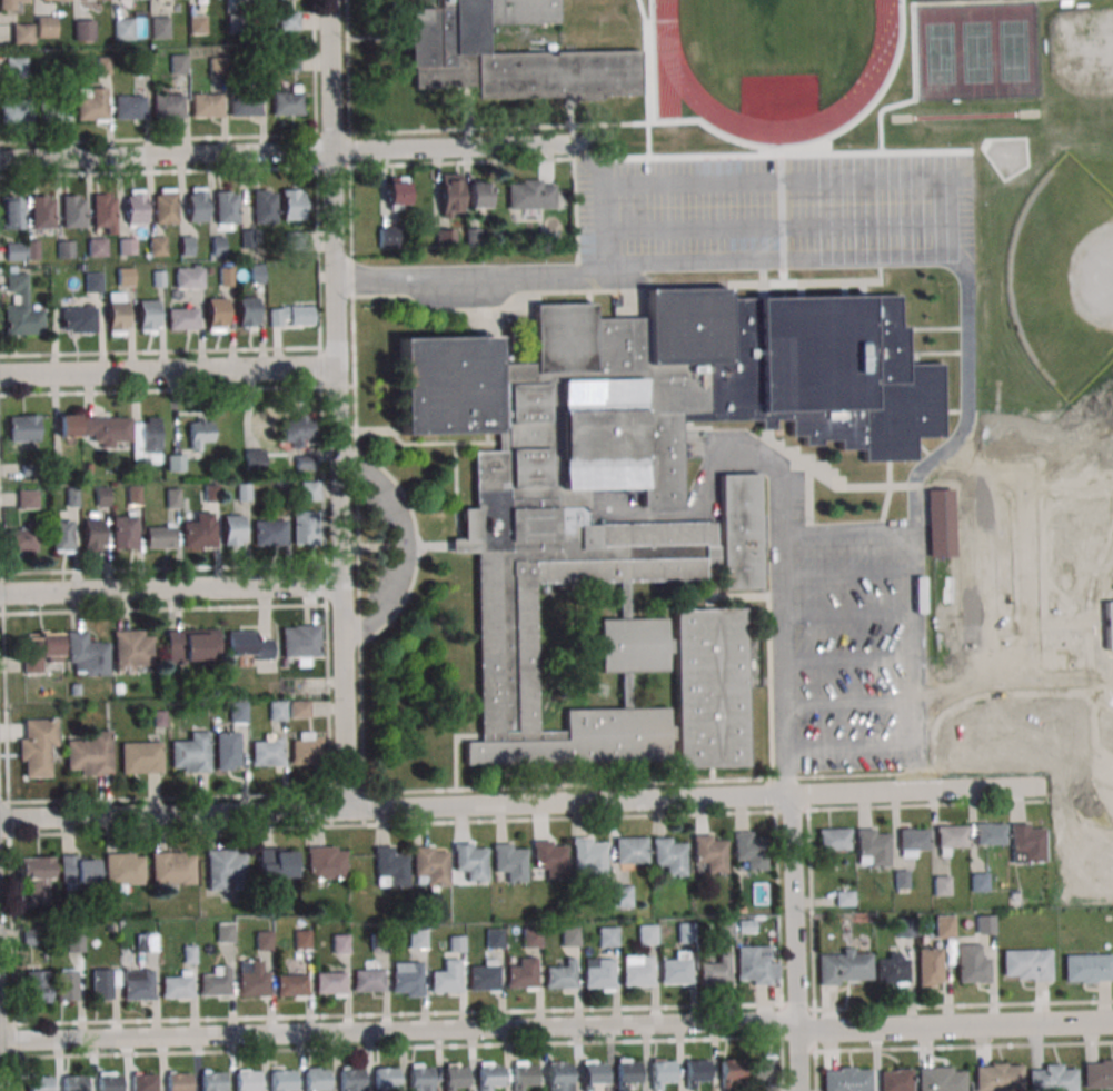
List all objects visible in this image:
park: (924, 0)
building: (92, 1)
building: (8, 4)
building: (424, 4)
park: (771, 9)
building: (519, 11)
building: (287, 21)
building: (196, 23)
building: (235, 23)
building: (44, 27)
building: (158, 27)
building: (82, 29)
building: (123, 30)
building: (21, 32)
road: (913, 46)
park: (1083, 51)
park: (978, 52)
track: (776, 56)
building: (506, 60)
building: (289, 62)
building: (177, 63)
building: (216, 66)
building: (16, 67)
building: (103, 67)
building: (140, 67)
road: (315, 67)
road: (347, 67)
building: (62, 73)
road: (647, 76)
building: (286, 101)
building: (91, 103)
building: (167, 105)
building: (206, 105)
building: (244, 105)
building: (129, 107)
building: (53, 110)
building: (16, 111)
road: (626, 125)
road: (459, 129)
road: (332, 135)
road: (158, 139)
road: (443, 149)
road: (317, 150)
road: (349, 150)
road: (165, 155)
road: (461, 162)
road: (332, 167)
road: (158, 171)
road: (781, 185)
building: (396, 192)
building: (450, 194)
building: (530, 194)
building: (477, 195)
building: (196, 204)
building: (291, 204)
building: (165, 205)
building: (135, 206)
parking lot: (772, 206)
building: (264, 208)
building: (226, 209)
building: (41, 212)
building: (73, 212)
building: (11, 214)
building: (105, 214)
road: (598, 219)
road: (331, 228)
road: (781, 229)
building: (388, 234)
building: (247, 238)
building: (445, 238)
building: (473, 238)
building: (296, 241)
building: (156, 245)
building: (186, 245)
building: (126, 246)
building: (218, 246)
building: (96, 247)
building: (32, 250)
building: (66, 250)
building: (13, 252)
road: (318, 258)
road: (906, 260)
building: (257, 274)
building: (125, 276)
building: (226, 276)
park: (1064, 277)
building: (188, 278)
building: (159, 279)
building: (92, 281)
building: (20, 308)
building: (247, 311)
building: (117, 314)
building: (216, 314)
building: (290, 315)
building: (147, 316)
building: (181, 318)
building: (77, 319)
road: (160, 351)
road: (167, 368)
road: (320, 368)
road: (338, 385)
road: (160, 389)
road: (967, 404)
building: (22, 428)
building: (70, 429)
building: (297, 430)
building: (107, 432)
building: (200, 433)
building: (145, 445)
road: (716, 457)
building: (176, 462)
building: (259, 462)
building: (305, 463)
building: (61, 467)
building: (31, 472)
road: (324, 478)
road: (357, 479)
building: (284, 486)
building: (309, 489)
building: (244, 493)
building: (211, 494)
building: (135, 496)
building: (102, 497)
building: (26, 498)
building: (72, 498)
building: (172, 498)
building: (940, 522)
building: (304, 527)
building: (231, 529)
building: (199, 530)
building: (609, 530)
road: (848, 530)
building: (123, 532)
building: (268, 533)
building: (91, 534)
building: (61, 535)
building: (159, 536)
building: (21, 538)
road: (407, 546)
road: (341, 555)
road: (162, 568)
road: (848, 572)
road: (326, 585)
road: (169, 589)
road: (162, 609)
road: (849, 615)
building: (1109, 624)
road: (339, 633)
road: (918, 637)
building: (299, 641)
parking lot: (851, 642)
building: (246, 643)
road: (782, 643)
building: (191, 645)
building: (40, 649)
building: (132, 649)
building: (87, 655)
road: (851, 659)
building: (118, 688)
building: (74, 690)
road: (327, 696)
road: (852, 701)
building: (298, 708)
building: (277, 712)
building: (238, 713)
building: (159, 720)
building: (37, 747)
building: (305, 747)
building: (227, 750)
building: (267, 750)
road: (853, 751)
building: (190, 752)
building: (90, 753)
building: (140, 757)
road: (787, 773)
road: (567, 786)
road: (347, 794)
road: (772, 794)
road: (8, 795)
road: (165, 797)
road: (518, 803)
road: (364, 807)
road: (330, 810)
road: (520, 819)
building: (990, 833)
building: (834, 837)
building: (951, 837)
building: (912, 841)
building: (1026, 842)
building: (872, 846)
building: (630, 850)
building: (751, 852)
building: (710, 855)
building: (589, 857)
building: (669, 857)
building: (549, 861)
building: (276, 862)
building: (470, 863)
building: (326, 864)
building: (510, 864)
building: (172, 866)
building: (431, 866)
building: (123, 867)
building: (391, 867)
building: (79, 870)
building: (225, 870)
building: (37, 879)
building: (900, 880)
building: (978, 881)
building: (942, 884)
building: (620, 897)
building: (844, 897)
road: (812, 909)
building: (985, 923)
building: (746, 926)
building: (903, 926)
building: (944, 926)
building: (1062, 926)
building: (109, 929)
building: (724, 930)
building: (225, 933)
building: (686, 934)
building: (30, 935)
building: (646, 935)
building: (531, 938)
building: (569, 938)
building: (607, 938)
building: (301, 940)
building: (494, 940)
building: (417, 941)
building: (264, 942)
road: (795, 942)
building: (76, 943)
building: (379, 943)
building: (146, 944)
building: (456, 944)
building: (340, 945)
road: (779, 951)
building: (189, 956)
building: (972, 963)
building: (1026, 964)
building: (753, 965)
building: (930, 965)
building: (843, 966)
building: (1087, 968)
building: (892, 969)
building: (675, 973)
building: (715, 973)
building: (523, 975)
building: (638, 975)
building: (599, 976)
building: (562, 978)
building: (251, 979)
building: (407, 979)
building: (446, 979)
building: (484, 980)
building: (368, 982)
building: (103, 983)
building: (67, 984)
building: (216, 984)
building: (329, 984)
building: (38, 985)
building: (138, 986)
building: (177, 986)
building: (291, 986)
road: (963, 1005)
road: (797, 1008)
road: (397, 1013)
road: (7, 1024)
road: (557, 1026)
road: (408, 1047)
road: (942, 1048)
building: (731, 1069)
building: (763, 1071)
road: (815, 1071)
building: (695, 1072)
building: (626, 1073)
building: (660, 1073)
building: (1097, 1073)
building: (592, 1074)
building: (488, 1075)
building: (523, 1075)
building: (559, 1075)
building: (454, 1077)
building: (997, 1077)
building: (385, 1078)
building: (1052, 1078)
building: (316, 1079)
building: (349, 1079)
building: (419, 1079)
building: (845, 1079)
building: (895, 1079)
building: (940, 1079)
building: (246, 1080)
building: (280, 1080)
building: (178, 1081)
building: (212, 1081)
building: (143, 1082)
building: (74, 1083)
building: (109, 1083)
building: (41, 1084)

